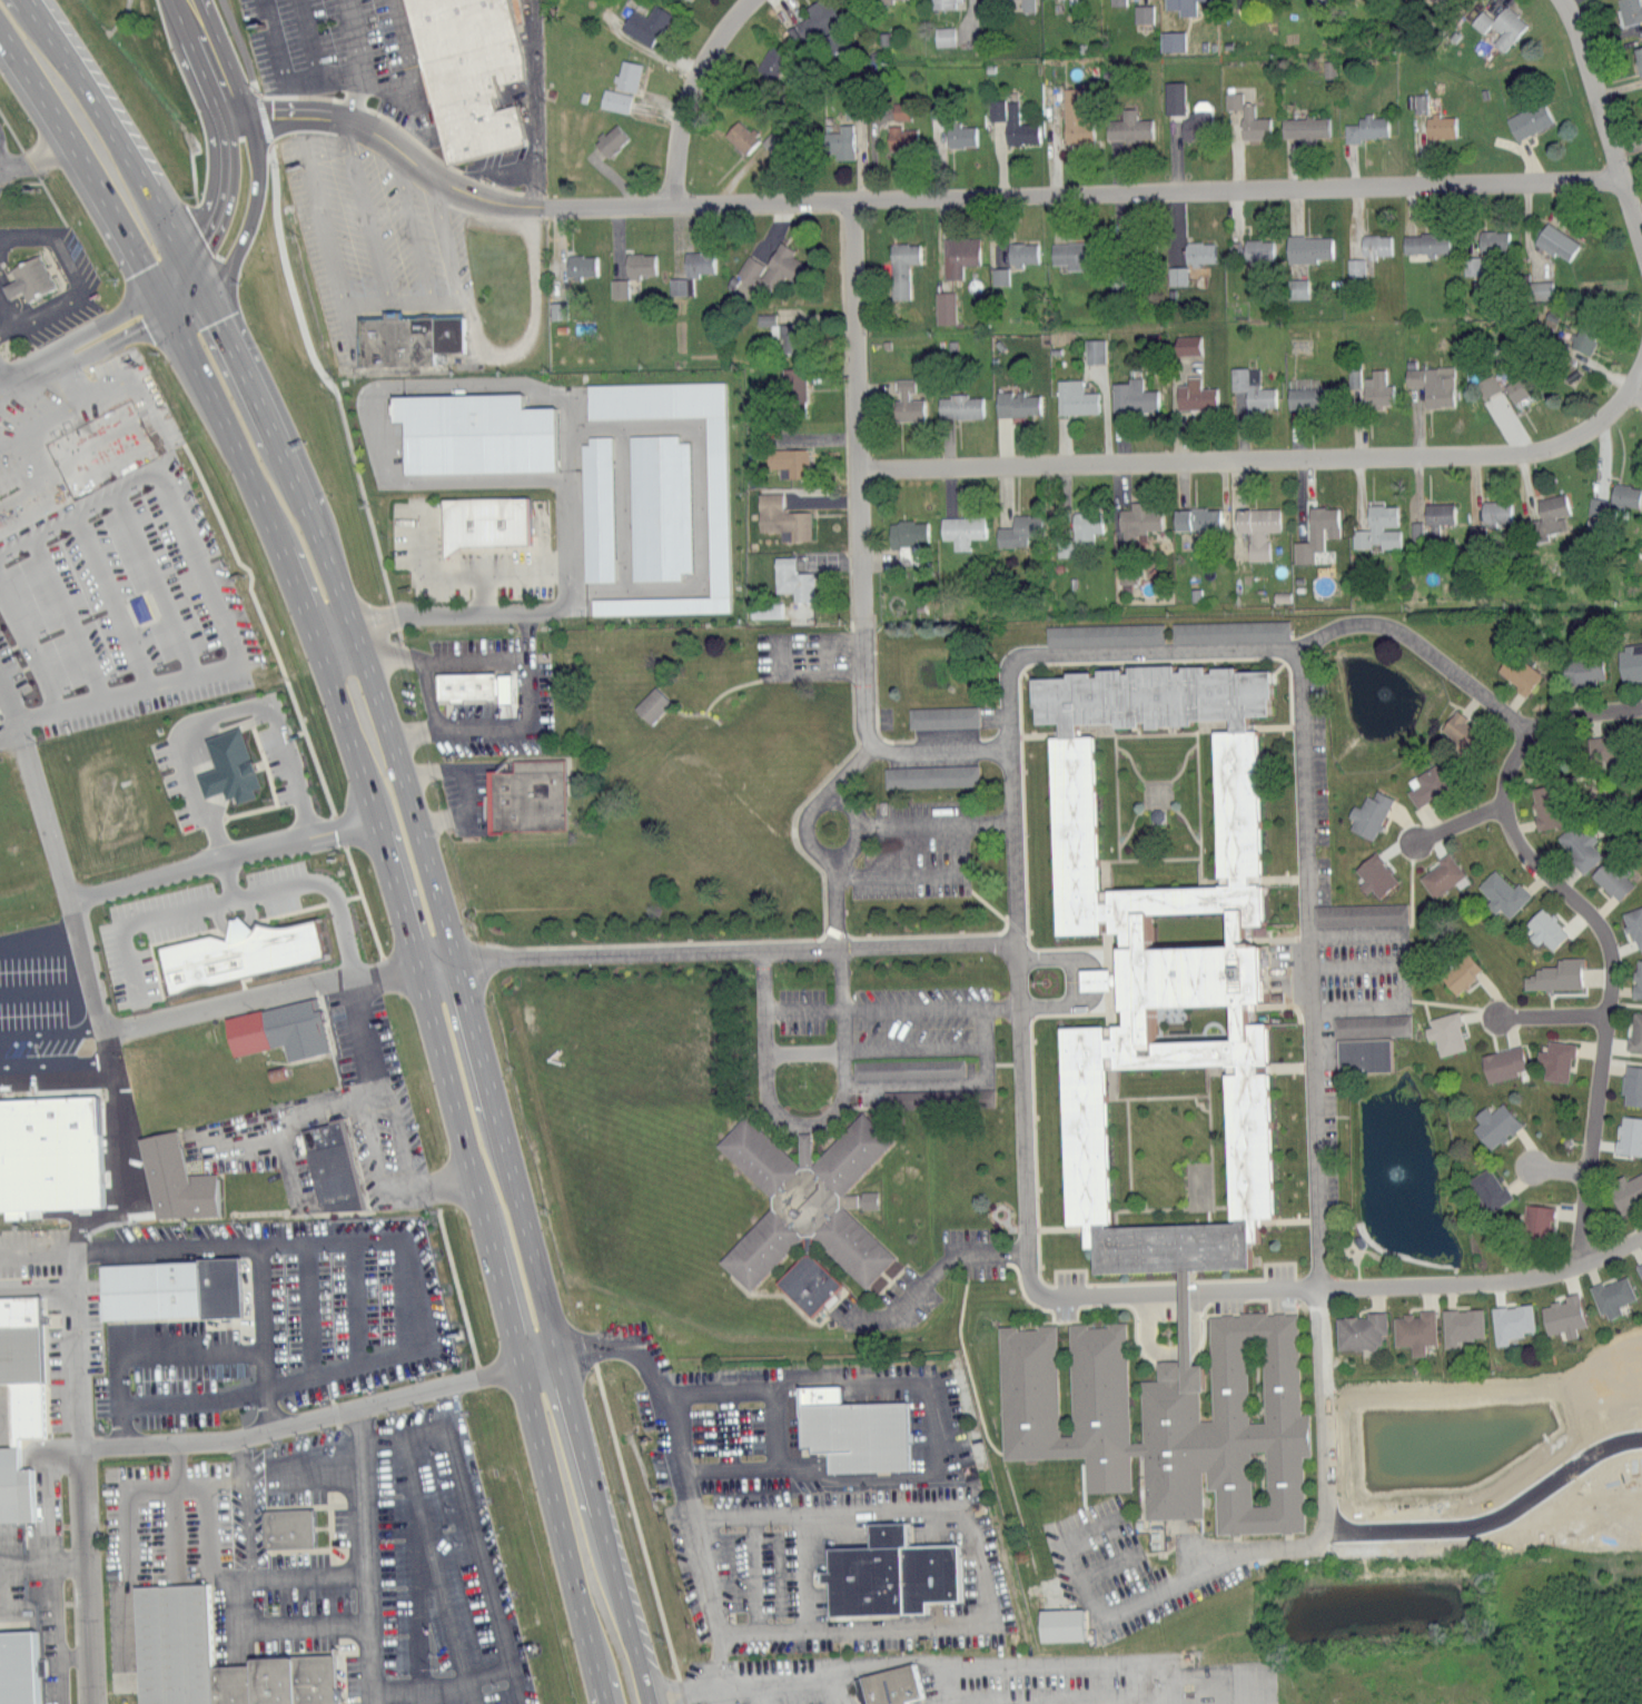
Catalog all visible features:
building: (1117, 1)
building: (946, 3)
building: (1026, 3)
building: (1181, 6)
road: (185, 8)
road: (195, 8)
building: (1630, 10)
building: (1143, 12)
building: (818, 18)
building: (644, 22)
building: (1501, 24)
building: (943, 34)
road: (354, 38)
building: (834, 38)
road: (309, 39)
building: (1170, 39)
road: (277, 43)
building: (1638, 57)
building: (770, 60)
building: (472, 73)
building: (626, 73)
road: (348, 75)
road: (1594, 87)
road: (694, 95)
road: (419, 96)
building: (1173, 96)
building: (614, 99)
building: (1420, 101)
road: (538, 103)
building: (899, 109)
building: (1075, 112)
building: (1247, 116)
building: (1527, 119)
building: (1011, 120)
building: (1196, 120)
road: (301, 121)
building: (1438, 125)
building: (1127, 126)
building: (1303, 126)
building: (1365, 127)
building: (739, 133)
building: (959, 133)
road: (113, 136)
building: (899, 136)
building: (609, 138)
building: (838, 140)
road: (240, 148)
road: (34, 156)
road: (86, 165)
road: (33, 167)
road: (494, 168)
road: (21, 184)
road: (273, 197)
road: (916, 200)
road: (1632, 207)
road: (365, 209)
road: (412, 225)
road: (28, 236)
building: (1491, 239)
building: (1554, 240)
building: (1425, 241)
building: (1374, 244)
road: (332, 247)
building: (1306, 247)
road: (446, 248)
building: (1257, 249)
building: (1198, 251)
building: (1020, 252)
building: (957, 254)
building: (1067, 254)
building: (637, 262)
building: (695, 262)
building: (580, 264)
building: (1471, 264)
road: (69, 265)
building: (1354, 266)
building: (900, 267)
building: (766, 268)
building: (1176, 274)
building: (998, 275)
traffic signals: (195, 276)
building: (33, 280)
building: (679, 285)
building: (617, 287)
building: (1295, 287)
building: (1540, 288)
road: (20, 289)
road: (179, 289)
road: (13, 295)
road: (408, 298)
traffic signals: (164, 303)
road: (158, 306)
building: (943, 306)
road: (9, 310)
road: (50, 310)
road: (532, 316)
road: (99, 324)
building: (778, 329)
road: (9, 330)
building: (1583, 337)
building: (413, 338)
road: (110, 340)
building: (1187, 344)
building: (1094, 349)
road: (29, 374)
road: (2, 378)
building: (791, 383)
building: (1432, 383)
building: (1486, 384)
building: (1375, 386)
building: (1252, 387)
building: (1515, 387)
road: (1639, 390)
building: (1194, 394)
building: (1131, 395)
building: (1074, 397)
building: (1303, 397)
building: (906, 402)
building: (1017, 403)
building: (959, 405)
building: (471, 432)
building: (788, 459)
road: (1265, 460)
building: (1624, 494)
building: (1593, 505)
building: (659, 506)
building: (715, 506)
building: (596, 508)
road: (859, 511)
building: (1495, 512)
building: (1436, 514)
building: (781, 515)
building: (1549, 515)
parking lot: (105, 517)
building: (1194, 517)
building: (483, 519)
building: (1136, 522)
building: (1256, 527)
building: (1378, 527)
building: (961, 529)
building: (1079, 529)
building: (1016, 531)
building: (1316, 532)
building: (906, 534)
road: (419, 537)
road: (286, 566)
road: (565, 568)
road: (508, 571)
road: (457, 576)
building: (791, 578)
road: (209, 592)
road: (345, 611)
building: (1229, 630)
building: (1102, 633)
road: (333, 634)
road: (1161, 654)
building: (1630, 662)
building: (1581, 667)
building: (1517, 671)
road: (424, 677)
road: (527, 682)
building: (477, 687)
building: (650, 704)
road: (201, 715)
building: (941, 716)
road: (4, 722)
building: (1456, 729)
building: (1599, 746)
road: (942, 751)
building: (226, 765)
building: (930, 775)
road: (1304, 777)
building: (1425, 783)
building: (524, 795)
road: (1015, 799)
building: (1543, 805)
building: (1367, 813)
road: (303, 814)
road: (937, 821)
road: (1461, 824)
building: (1577, 845)
road: (220, 855)
road: (838, 859)
road: (921, 872)
building: (1375, 874)
building: (1440, 874)
road: (227, 875)
building: (1611, 878)
road: (237, 893)
building: (1501, 893)
road: (399, 903)
road: (832, 904)
building: (1359, 913)
building: (1634, 924)
road: (37, 927)
building: (1544, 928)
road: (893, 944)
building: (237, 951)
road: (1056, 959)
building: (1159, 960)
building: (1460, 972)
road: (1611, 973)
building: (1555, 974)
building: (1636, 978)
road: (1091, 979)
road: (1057, 1003)
road: (930, 1005)
road: (1552, 1014)
road: (105, 1018)
road: (473, 1024)
building: (1371, 1024)
building: (277, 1029)
road: (368, 1031)
building: (1634, 1031)
building: (1444, 1032)
road: (933, 1043)
building: (1362, 1053)
building: (1554, 1060)
building: (1501, 1062)
building: (907, 1068)
road: (70, 1079)
building: (1631, 1084)
building: (982, 1097)
road: (298, 1112)
building: (1494, 1123)
road: (804, 1128)
road: (113, 1133)
building: (1629, 1133)
road: (396, 1135)
building: (49, 1151)
road: (374, 1151)
building: (330, 1166)
road: (1561, 1169)
building: (172, 1179)
road: (442, 1182)
building: (1486, 1188)
building: (1625, 1190)
building: (803, 1198)
building: (867, 1199)
road: (525, 1220)
building: (1536, 1220)
road: (358, 1237)
road: (951, 1254)
building: (1639, 1268)
building: (807, 1282)
road: (1485, 1284)
road: (34, 1286)
building: (168, 1288)
road: (258, 1294)
road: (1176, 1295)
building: (1612, 1296)
road: (357, 1299)
road: (308, 1307)
building: (1562, 1316)
road: (508, 1317)
building: (1510, 1321)
building: (1461, 1325)
building: (1359, 1330)
building: (1414, 1330)
road: (72, 1347)
road: (165, 1348)
road: (1171, 1350)
road: (190, 1396)
road: (774, 1417)
building: (1169, 1418)
building: (854, 1434)
road: (409, 1436)
road: (195, 1438)
road: (581, 1442)
road: (1326, 1463)
road: (254, 1465)
road: (684, 1473)
building: (14, 1485)
road: (1493, 1515)
building: (285, 1527)
road: (484, 1542)
road: (366, 1553)
road: (42, 1559)
road: (978, 1559)
road: (214, 1567)
building: (887, 1573)
road: (53, 1605)
road: (624, 1616)
building: (1058, 1624)
road: (274, 1632)
building: (209, 1657)
road: (889, 1658)
road: (57, 1661)
road: (1079, 1662)
building: (18, 1663)
road: (750, 1684)
building: (891, 1685)
road: (444, 1686)
road: (601, 1687)
road: (466, 1694)

